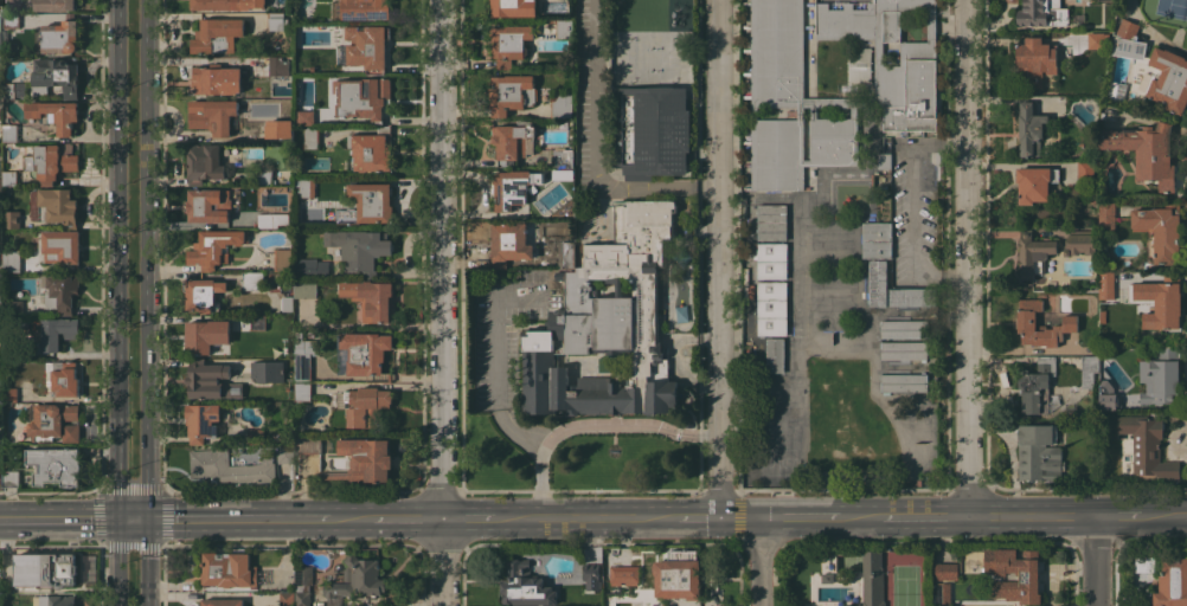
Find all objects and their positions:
building: (0, 2)
building: (11, 4)
building: (226, 4)
building: (54, 5)
building: (514, 7)
park: (1172, 8)
building: (365, 9)
building: (1041, 13)
building: (1079, 17)
building: (12, 20)
building: (275, 20)
building: (563, 28)
building: (4, 33)
building: (60, 36)
building: (217, 36)
building: (0, 39)
building: (1127, 40)
building: (511, 44)
building: (368, 47)
building: (893, 56)
building: (1034, 62)
building: (1080, 62)
building: (277, 65)
building: (859, 66)
building: (56, 76)
building: (216, 78)
building: (1169, 79)
building: (13, 90)
building: (512, 92)
building: (360, 97)
building: (787, 103)
building: (838, 103)
building: (562, 107)
building: (54, 114)
building: (212, 116)
building: (303, 117)
building: (1031, 128)
building: (284, 130)
building: (650, 130)
building: (9, 133)
building: (310, 137)
building: (1110, 138)
building: (512, 141)
building: (371, 150)
road: (595, 151)
building: (1153, 153)
building: (562, 157)
building: (883, 160)
building: (51, 161)
building: (205, 162)
building: (1085, 172)
building: (264, 176)
building: (8, 178)
building: (1034, 183)
building: (0, 186)
building: (528, 186)
building: (307, 187)
building: (6, 191)
building: (513, 191)
building: (367, 204)
building: (208, 205)
building: (53, 206)
road: (910, 209)
building: (644, 213)
building: (1106, 215)
building: (11, 219)
building: (268, 220)
building: (771, 223)
building: (1160, 230)
building: (875, 239)
building: (1080, 243)
building: (509, 244)
building: (214, 247)
building: (59, 249)
building: (360, 249)
building: (1103, 250)
building: (1033, 253)
building: (565, 254)
building: (1, 256)
road: (718, 257)
road: (971, 257)
road: (118, 258)
road: (147, 258)
building: (282, 259)
building: (11, 260)
building: (771, 260)
building: (310, 267)
building: (280, 277)
building: (252, 281)
building: (877, 283)
building: (1106, 284)
building: (0, 288)
building: (304, 289)
building: (58, 292)
building: (204, 295)
building: (912, 296)
building: (370, 298)
building: (1157, 302)
building: (287, 303)
road: (444, 303)
building: (13, 307)
building: (771, 308)
building: (257, 322)
building: (1041, 324)
building: (903, 328)
building: (57, 331)
building: (605, 331)
building: (309, 333)
building: (203, 335)
building: (0, 347)
building: (9, 350)
building: (365, 350)
building: (903, 350)
building: (775, 354)
road: (672, 355)
building: (302, 356)
road: (494, 361)
building: (267, 370)
building: (1089, 370)
building: (1161, 376)
building: (62, 378)
building: (0, 381)
building: (211, 382)
building: (904, 382)
building: (1104, 382)
building: (1037, 386)
building: (302, 391)
building: (0, 394)
building: (9, 394)
building: (1119, 400)
building: (365, 406)
building: (201, 420)
building: (53, 421)
building: (333, 424)
road: (625, 426)
building: (308, 445)
building: (1148, 446)
building: (1039, 451)
building: (284, 453)
building: (364, 460)
building: (54, 465)
building: (229, 468)
building: (11, 478)
road: (538, 482)
road: (801, 514)
road: (860, 514)
road: (926, 514)
road: (1034, 514)
road: (1183, 514)
road: (698, 515)
road: (742, 515)
road: (1118, 515)
road: (1160, 515)
road: (351, 516)
road: (409, 516)
road: (468, 516)
road: (584, 516)
road: (59, 517)
traffic signals: (118, 517)
road: (133, 517)
traffic signals: (147, 517)
road: (237, 517)
road: (763, 560)
road: (1097, 560)
road: (118, 561)
road: (146, 561)
building: (1143, 562)
building: (45, 569)
building: (229, 569)
building: (947, 572)
building: (1015, 573)
building: (621, 574)
building: (682, 574)
building: (591, 576)
building: (872, 578)
building: (355, 580)
building: (1172, 584)
building: (303, 585)
building: (525, 585)
building: (943, 593)
building: (287, 599)
building: (54, 600)
building: (222, 601)

